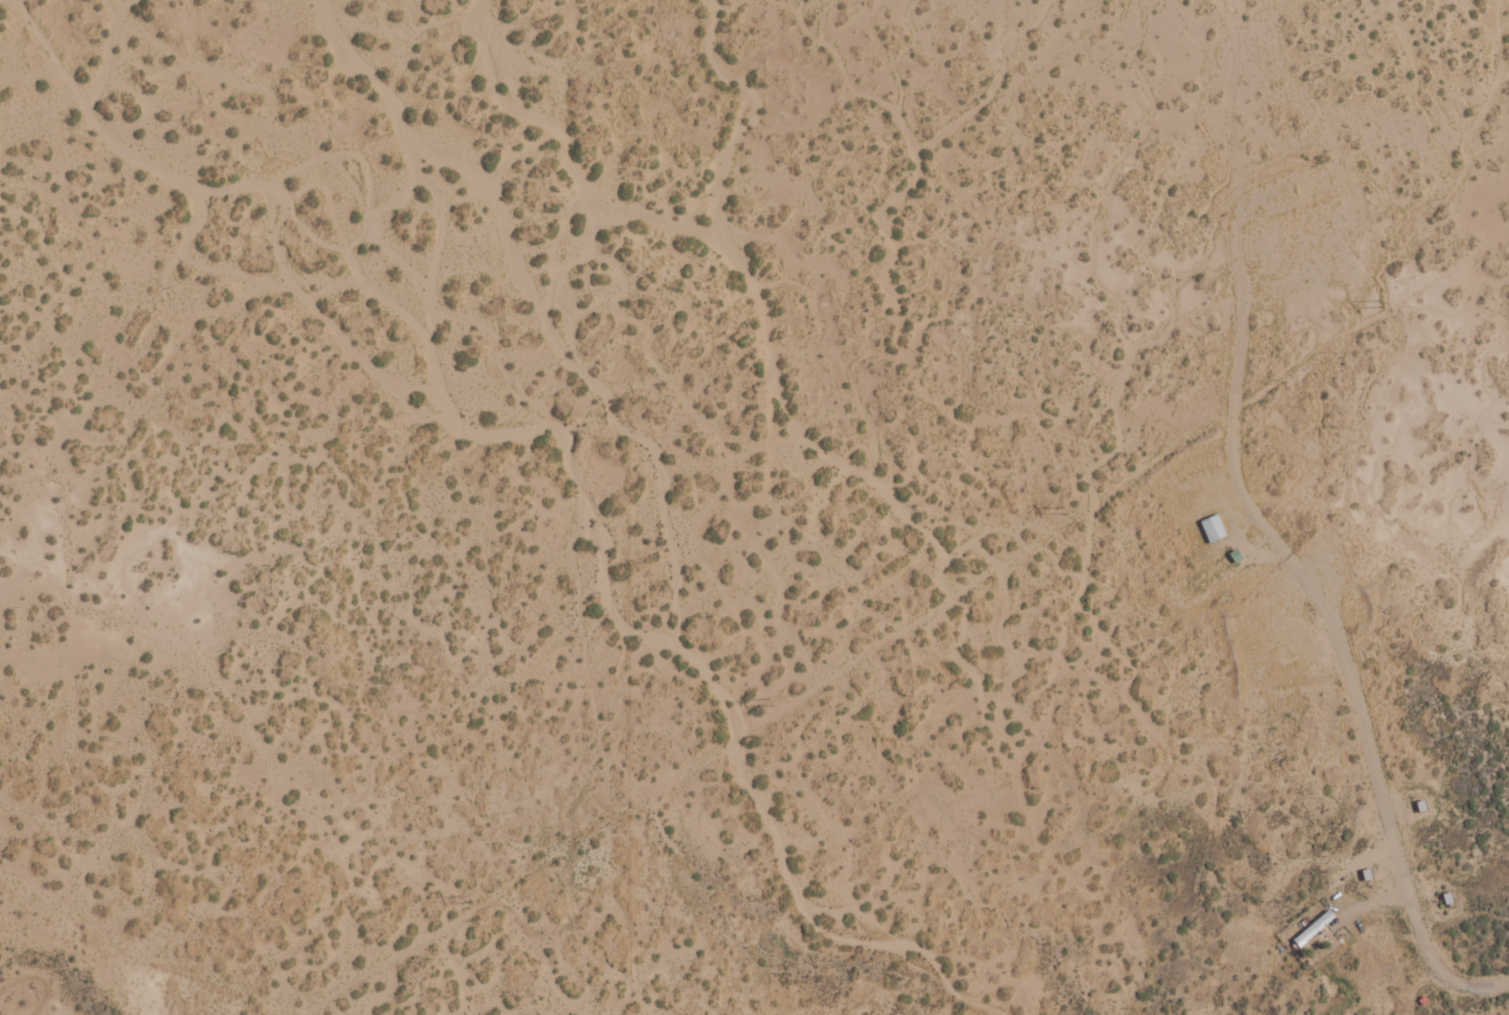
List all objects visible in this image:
building: (1215, 528)

